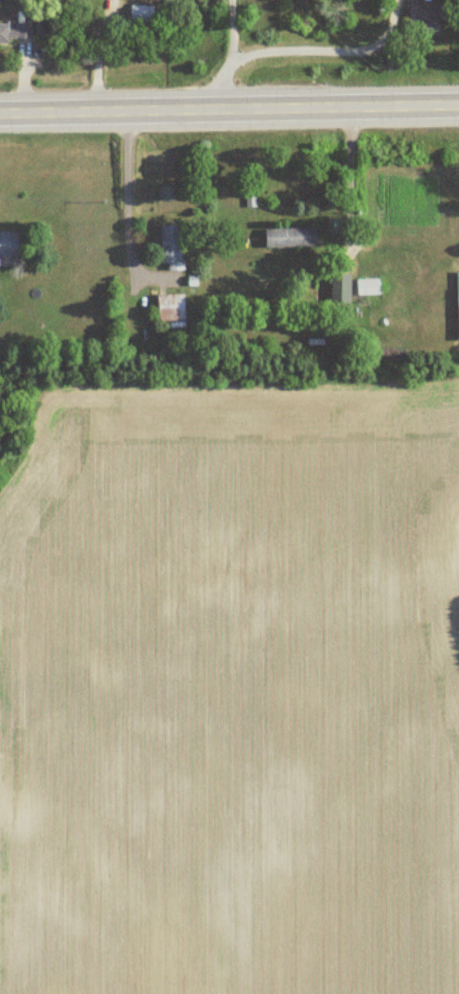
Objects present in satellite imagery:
building: (428, 21)
building: (14, 32)
road: (326, 49)
road: (101, 56)
road: (229, 56)
road: (229, 107)
road: (348, 177)
road: (127, 191)
building: (289, 237)
building: (8, 244)
building: (172, 245)
building: (367, 286)
building: (339, 287)
building: (457, 305)
building: (169, 307)

